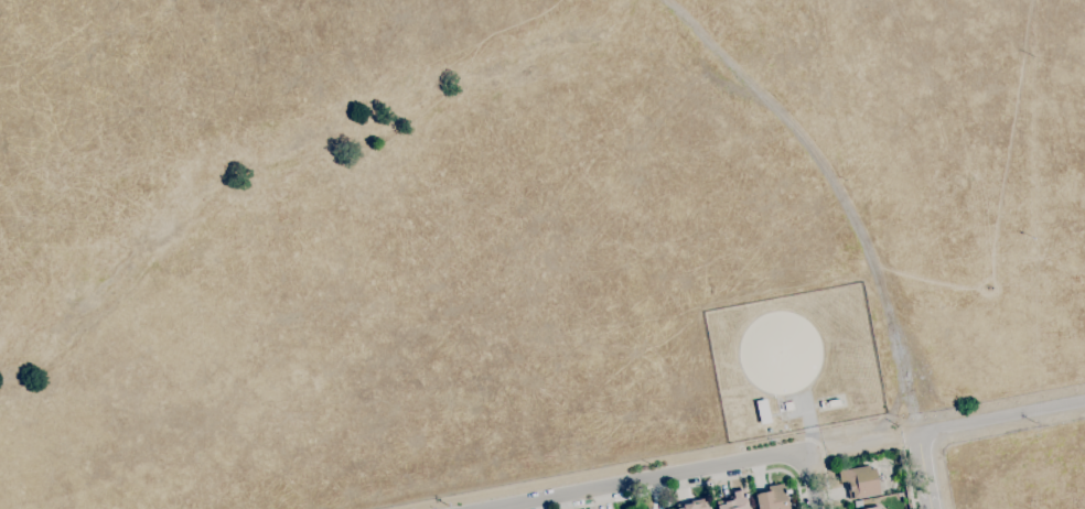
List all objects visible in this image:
road: (834, 193)
building: (834, 403)
building: (821, 404)
building: (788, 407)
building: (763, 412)
road: (1001, 420)
building: (770, 431)
road: (861, 443)
building: (845, 466)
road: (925, 473)
road: (826, 478)
road: (649, 479)
road: (907, 480)
building: (859, 481)
road: (810, 483)
road: (699, 485)
building: (772, 498)
building: (734, 501)
building: (858, 503)
building: (692, 505)
building: (873, 508)

